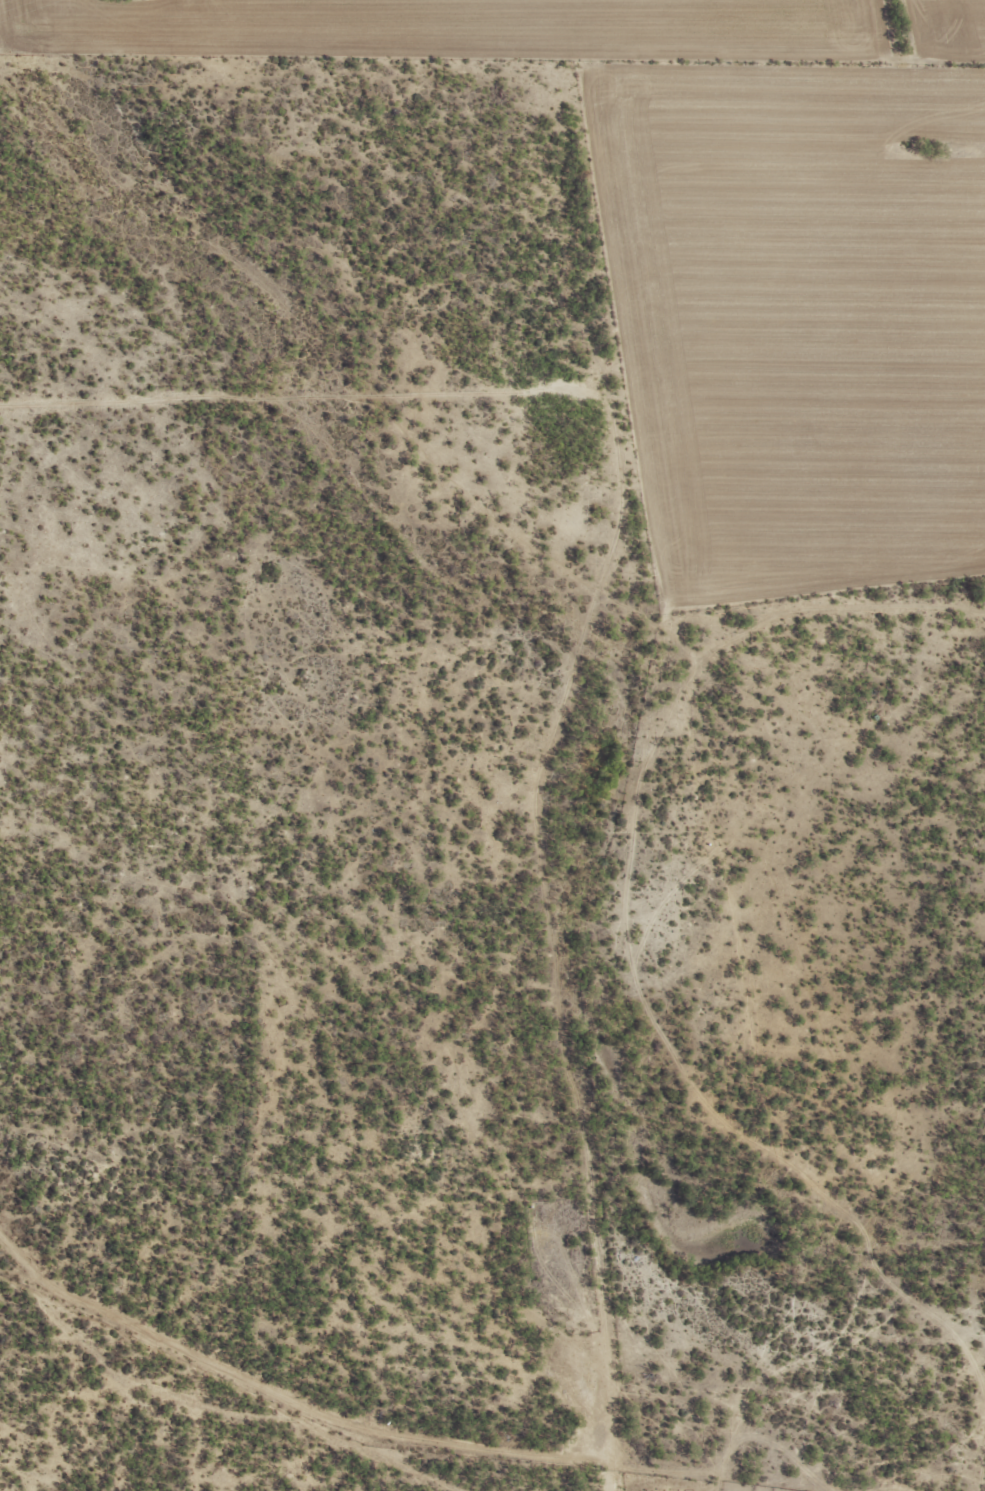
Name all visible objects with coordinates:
road: (154, 1372)

